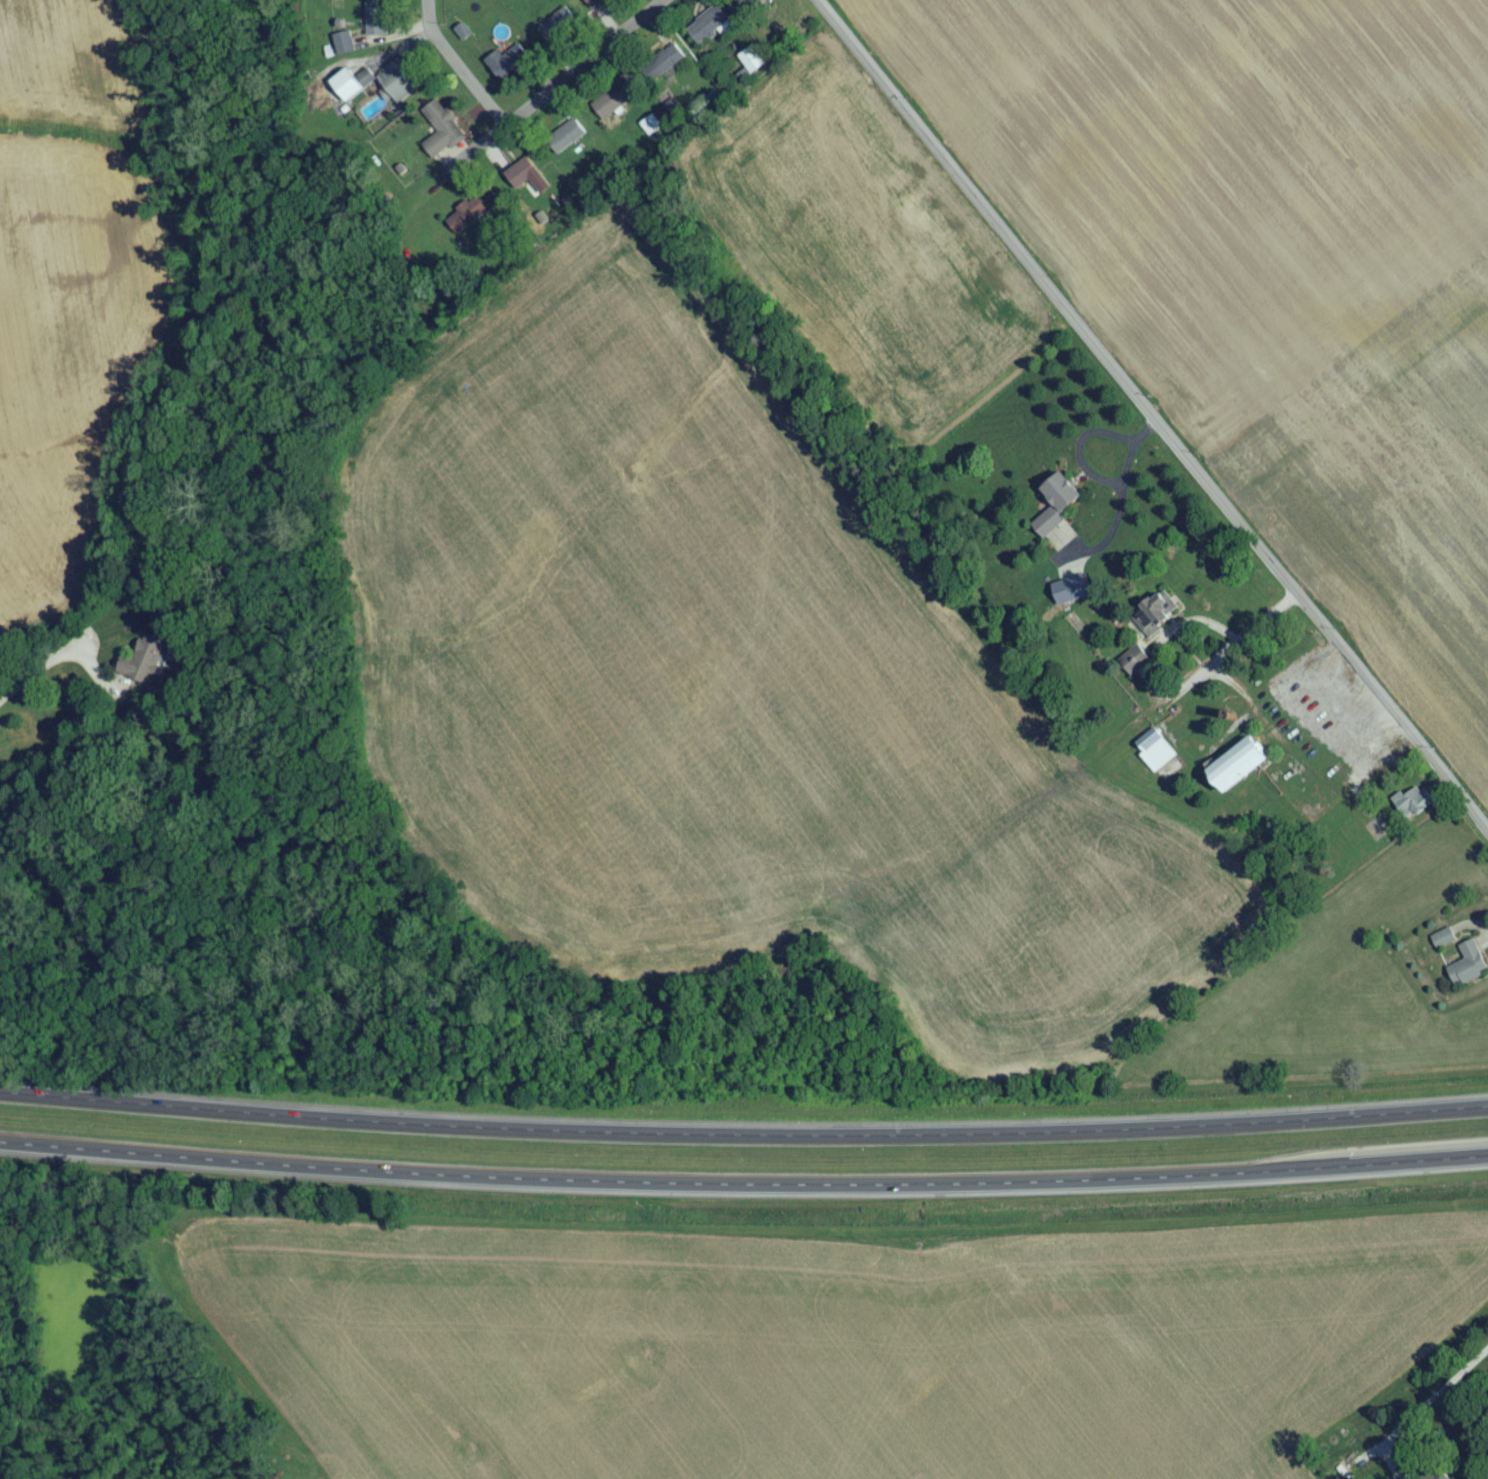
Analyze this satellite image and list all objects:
building: (749, 2)
building: (594, 4)
building: (375, 22)
building: (707, 29)
building: (558, 32)
building: (751, 65)
building: (509, 67)
building: (664, 70)
road: (453, 73)
building: (400, 85)
building: (347, 90)
road: (556, 94)
building: (616, 102)
building: (701, 110)
building: (440, 132)
building: (565, 141)
building: (521, 178)
building: (477, 211)
road: (1148, 418)
road: (1080, 447)
road: (1122, 498)
building: (1057, 516)
road: (1170, 628)
road: (1229, 646)
building: (146, 666)
road: (41, 669)
building: (1155, 754)
building: (1239, 769)
building: (1415, 808)
building: (1443, 943)
building: (1468, 970)
road: (743, 1136)
road: (743, 1188)
road: (1441, 1396)

